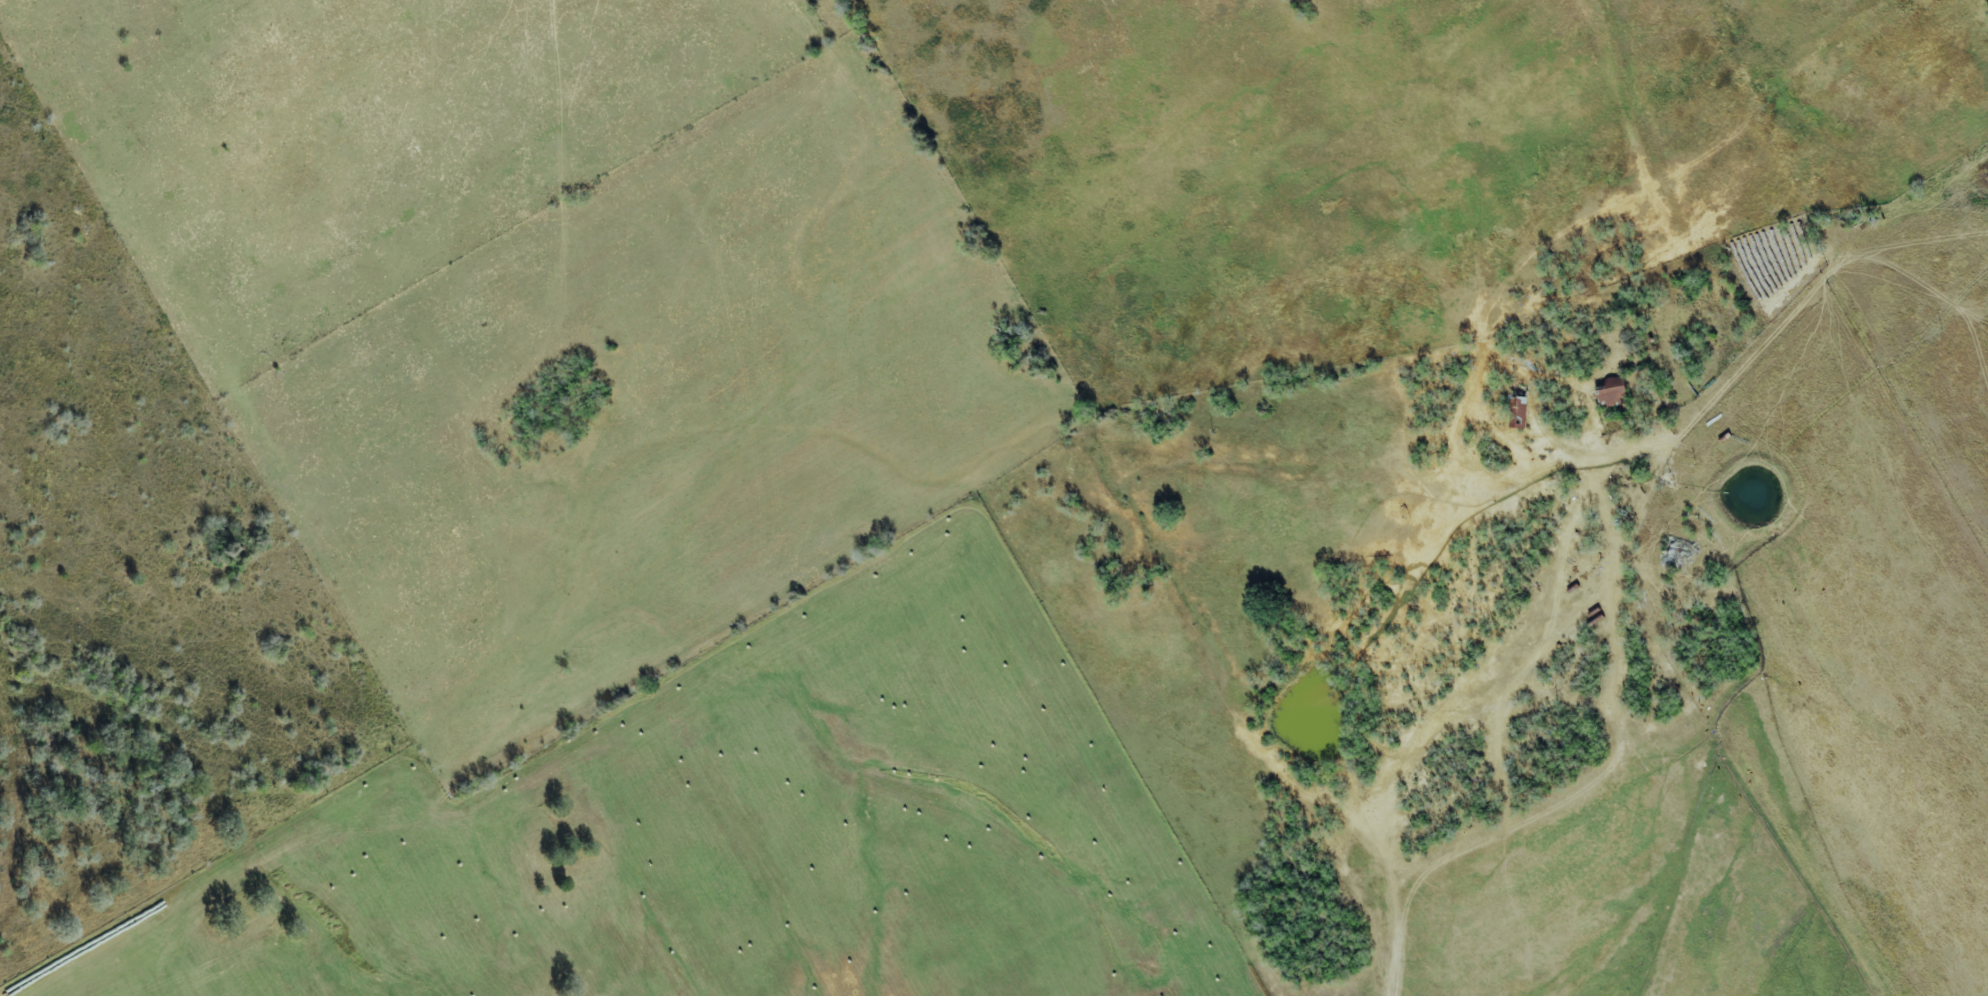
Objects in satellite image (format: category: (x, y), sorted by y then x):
building: (1611, 393)
road: (1605, 778)

